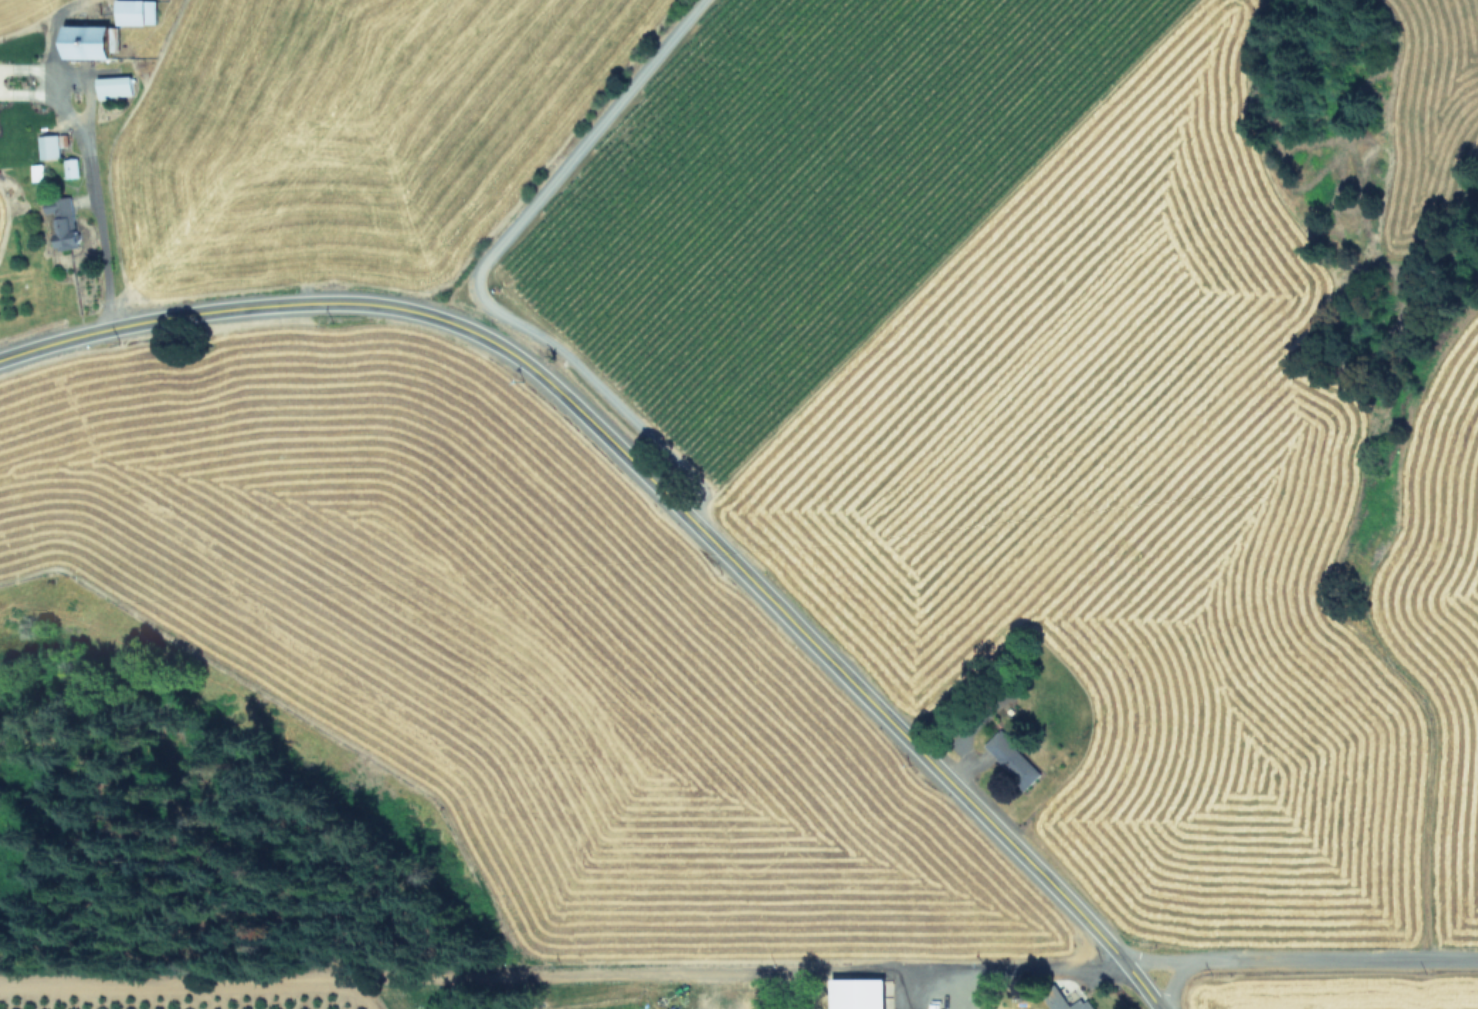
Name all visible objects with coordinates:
building: (138, 11)
building: (90, 40)
building: (115, 85)
building: (49, 146)
road: (82, 147)
building: (71, 167)
building: (37, 171)
building: (64, 221)
road: (474, 271)
crop: (925, 348)
road: (656, 486)
crop: (429, 725)
building: (1015, 757)
road: (1298, 956)
road: (1012, 968)
road: (1168, 982)
crop: (1345, 991)
building: (863, 993)
building: (1061, 1002)

